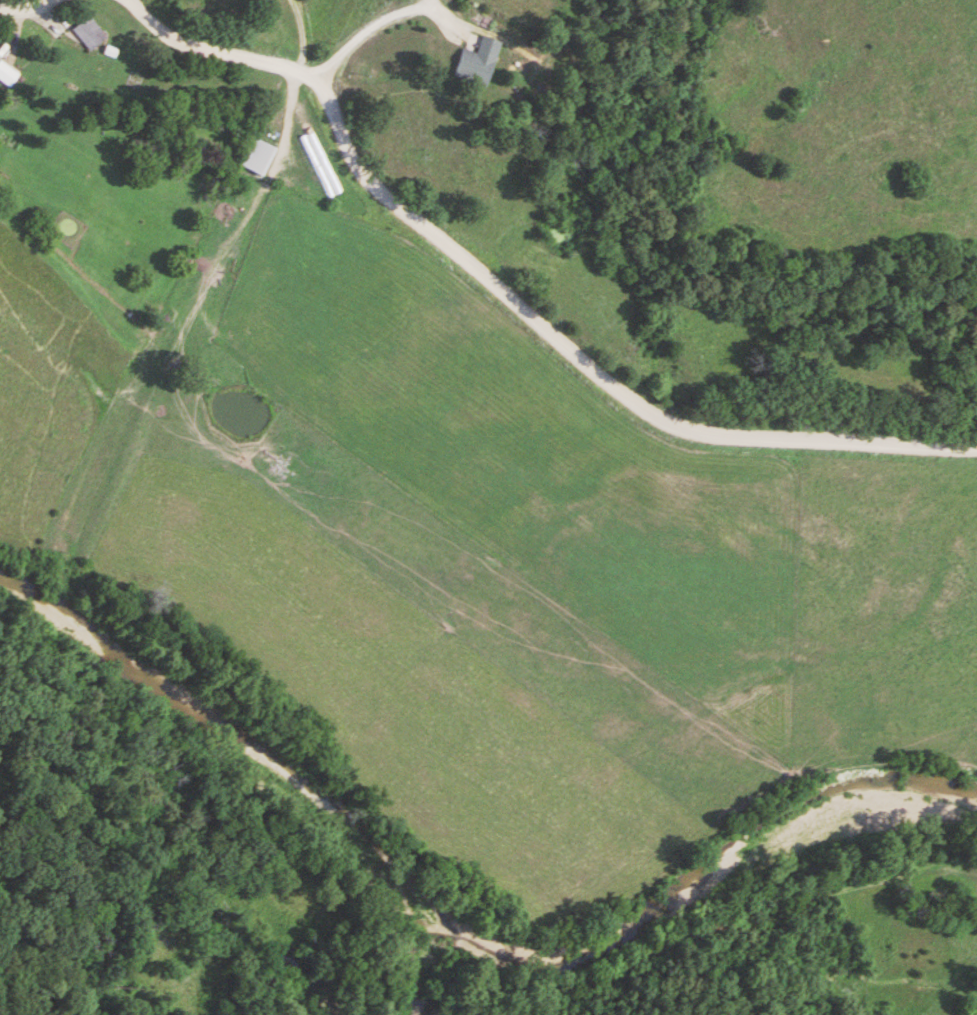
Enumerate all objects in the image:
road: (24, 9)
road: (365, 30)
building: (89, 33)
building: (477, 63)
building: (7, 74)
building: (257, 157)
road: (510, 298)

